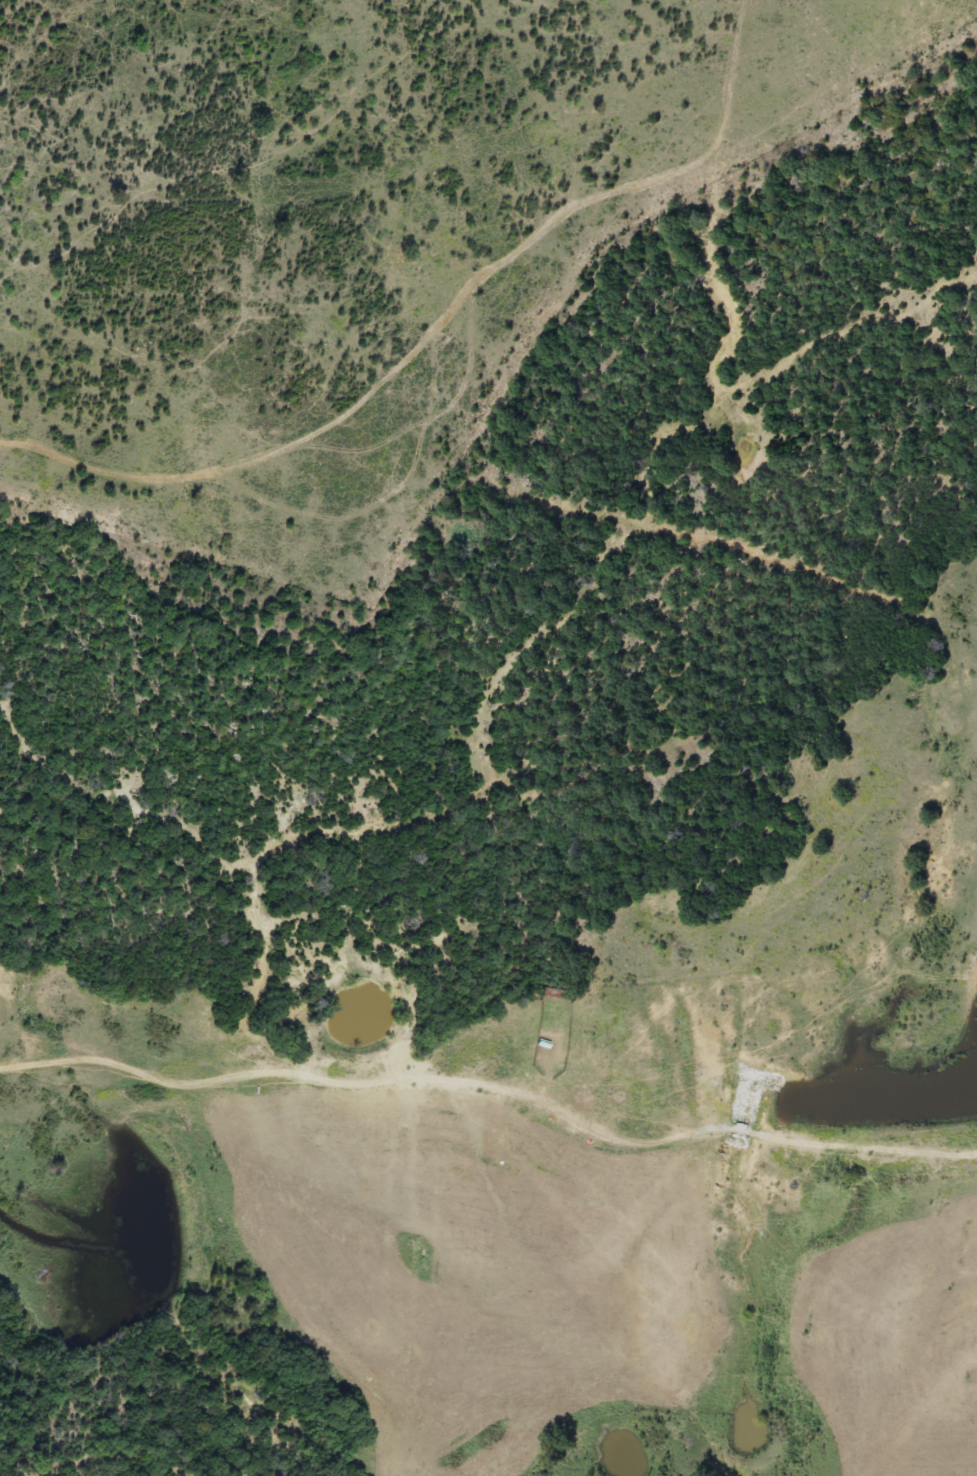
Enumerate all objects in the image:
road: (18, 1060)

